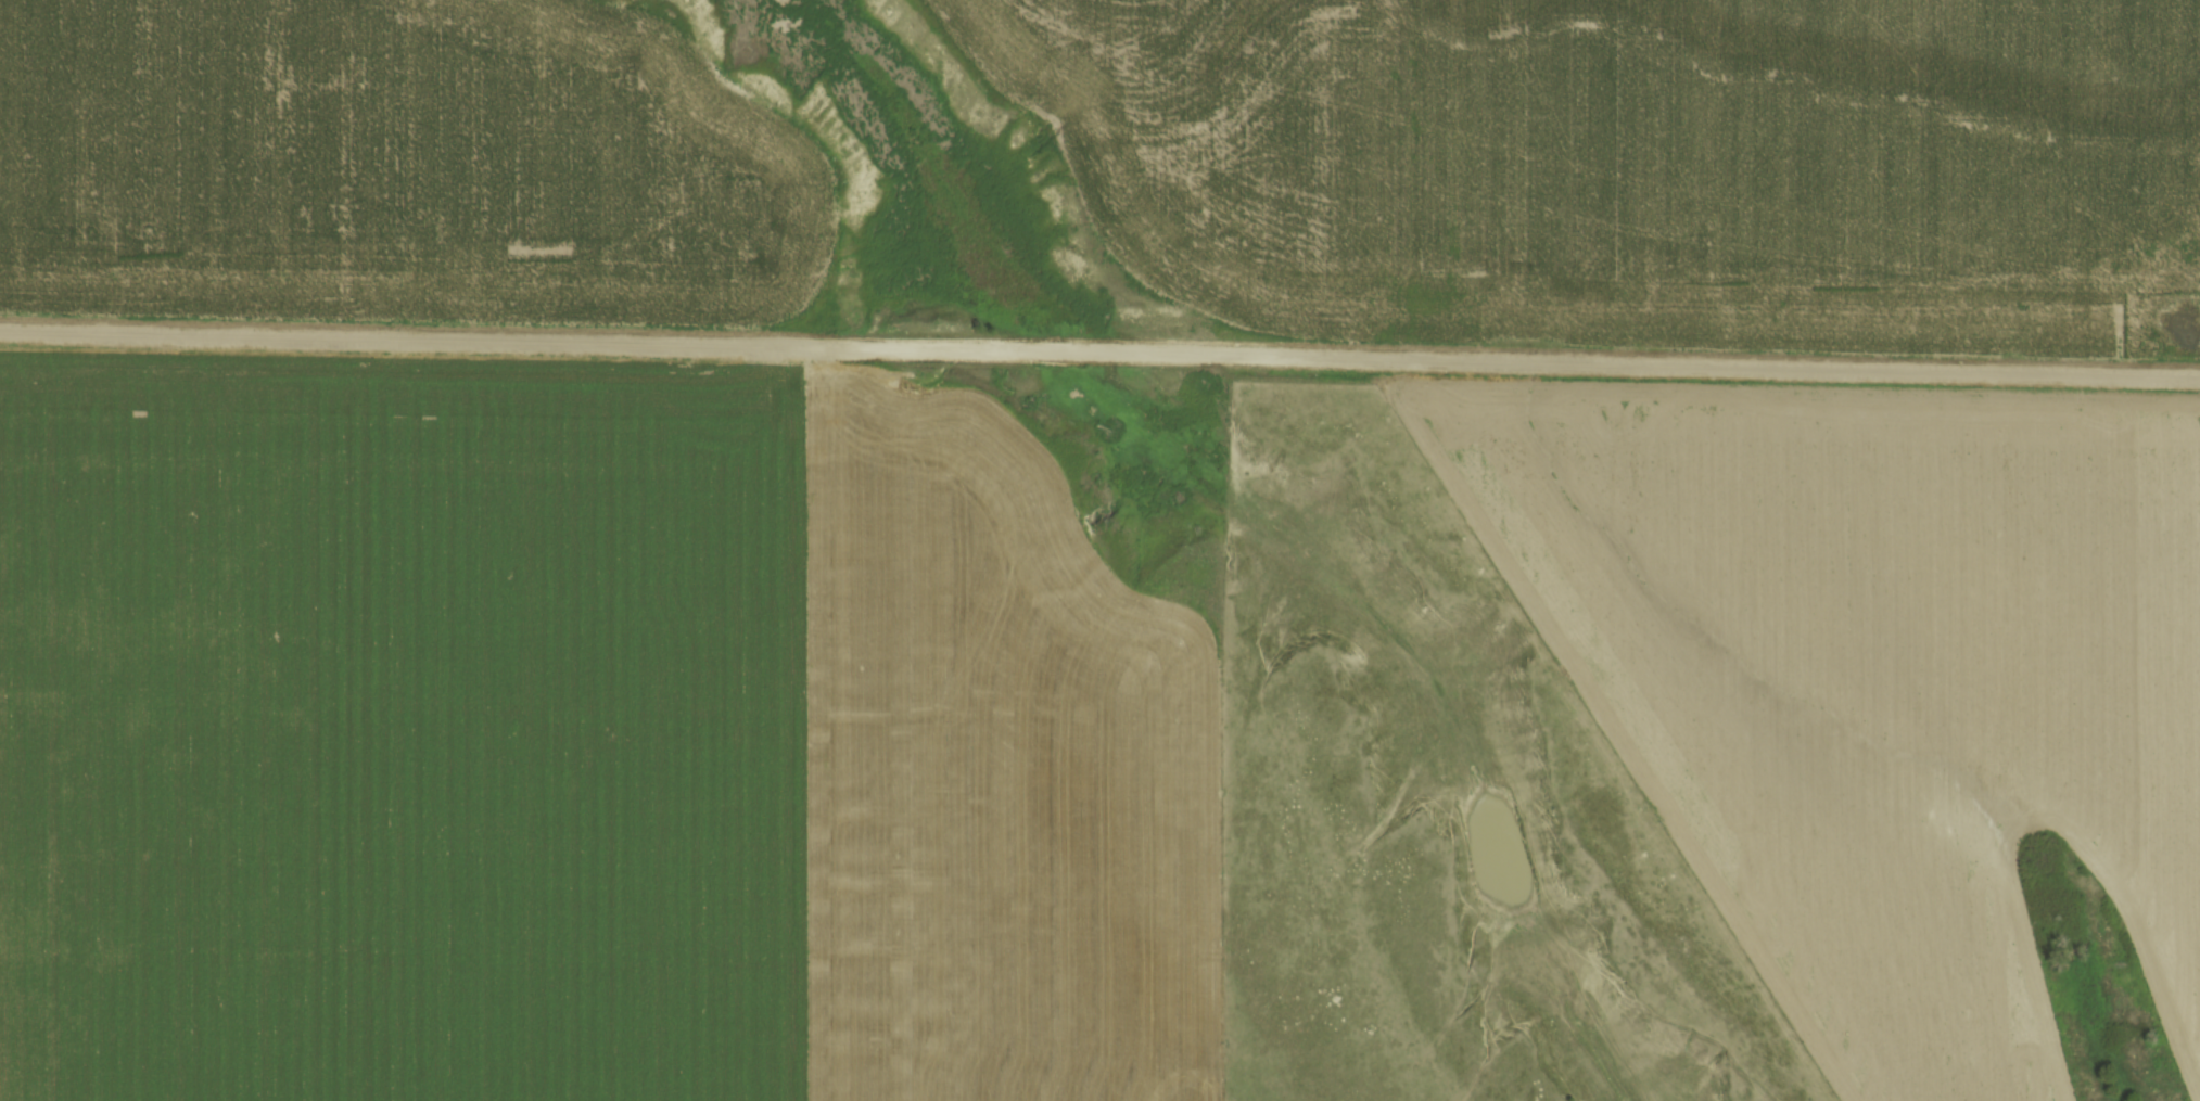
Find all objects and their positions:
road: (1099, 350)
crop: (1874, 682)
crop: (399, 729)
crop: (989, 776)

